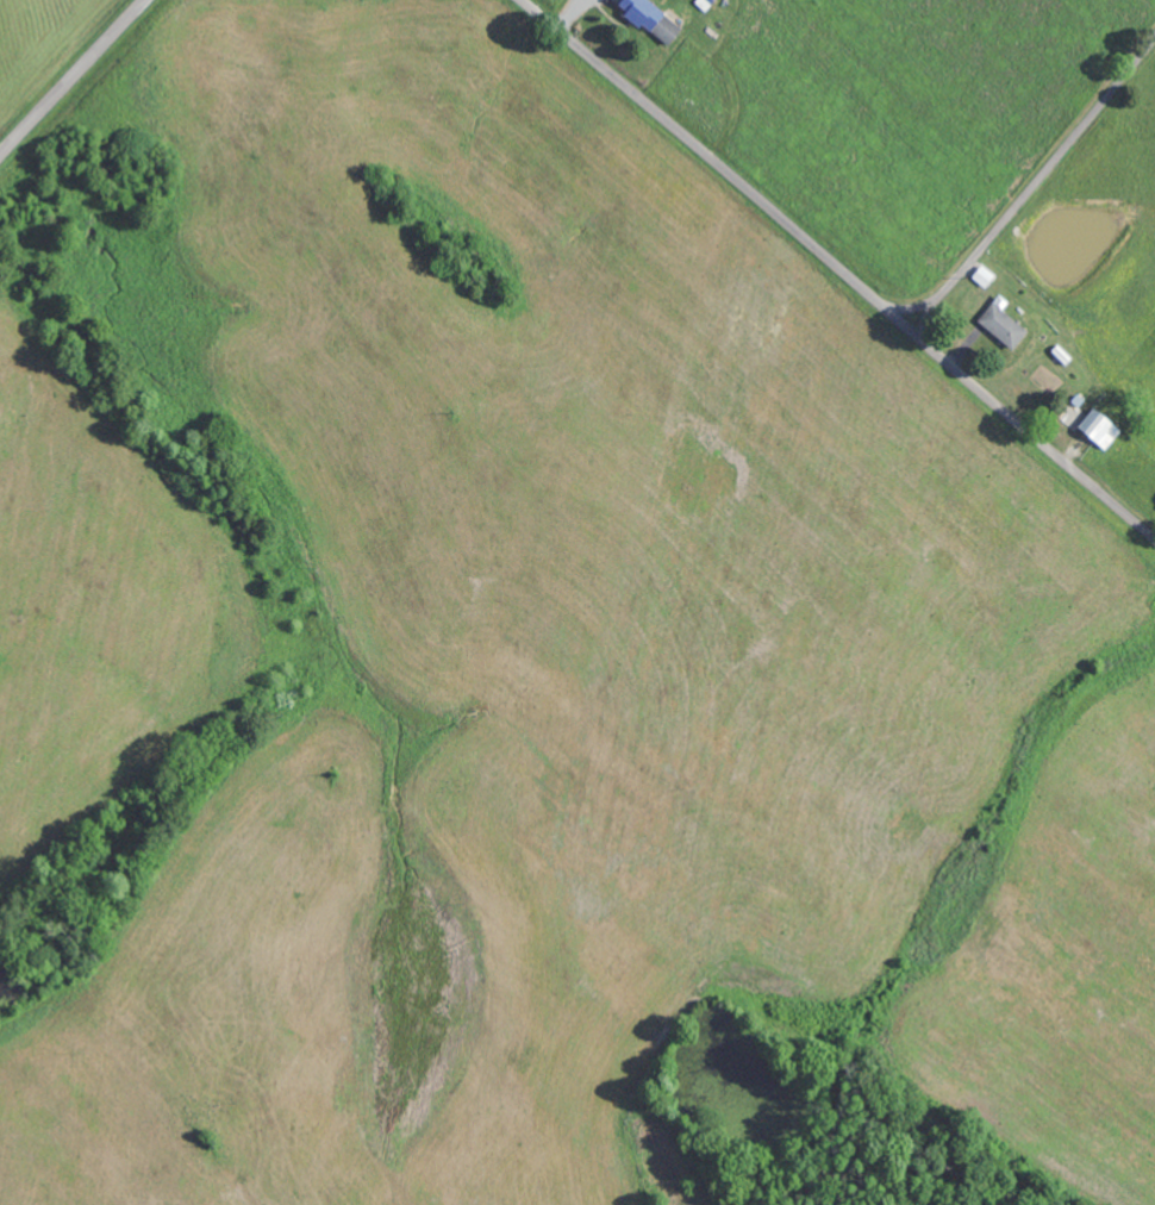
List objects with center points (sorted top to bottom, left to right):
building: (704, 2)
building: (651, 18)
road: (73, 77)
road: (1032, 183)
road: (839, 267)
building: (982, 275)
building: (1001, 323)
building: (1098, 427)

